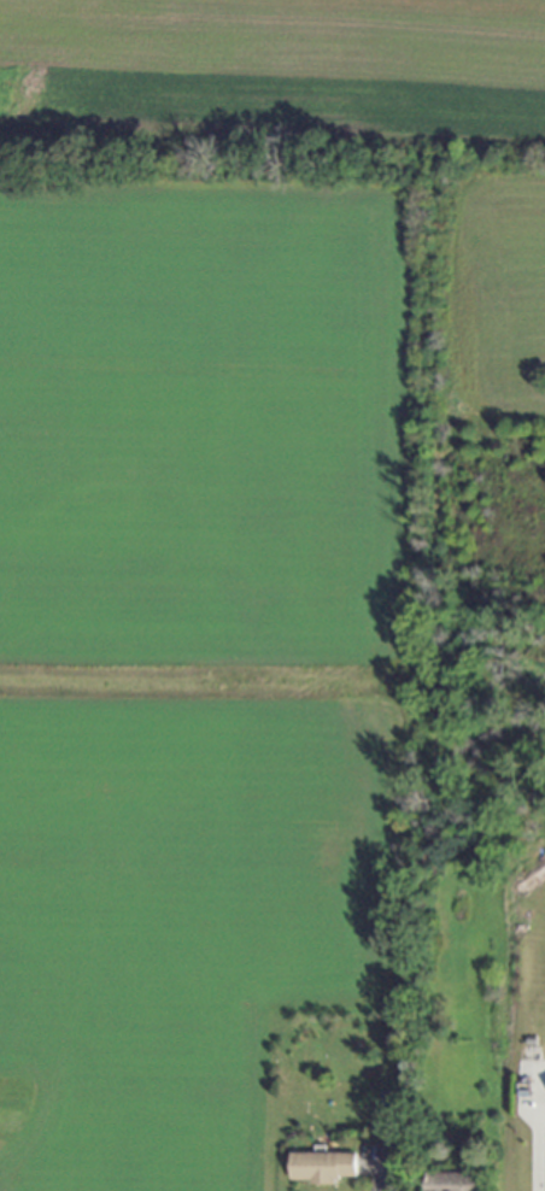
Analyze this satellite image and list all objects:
crop: (224, 517)
road: (537, 1140)
building: (322, 1167)
building: (452, 1181)

